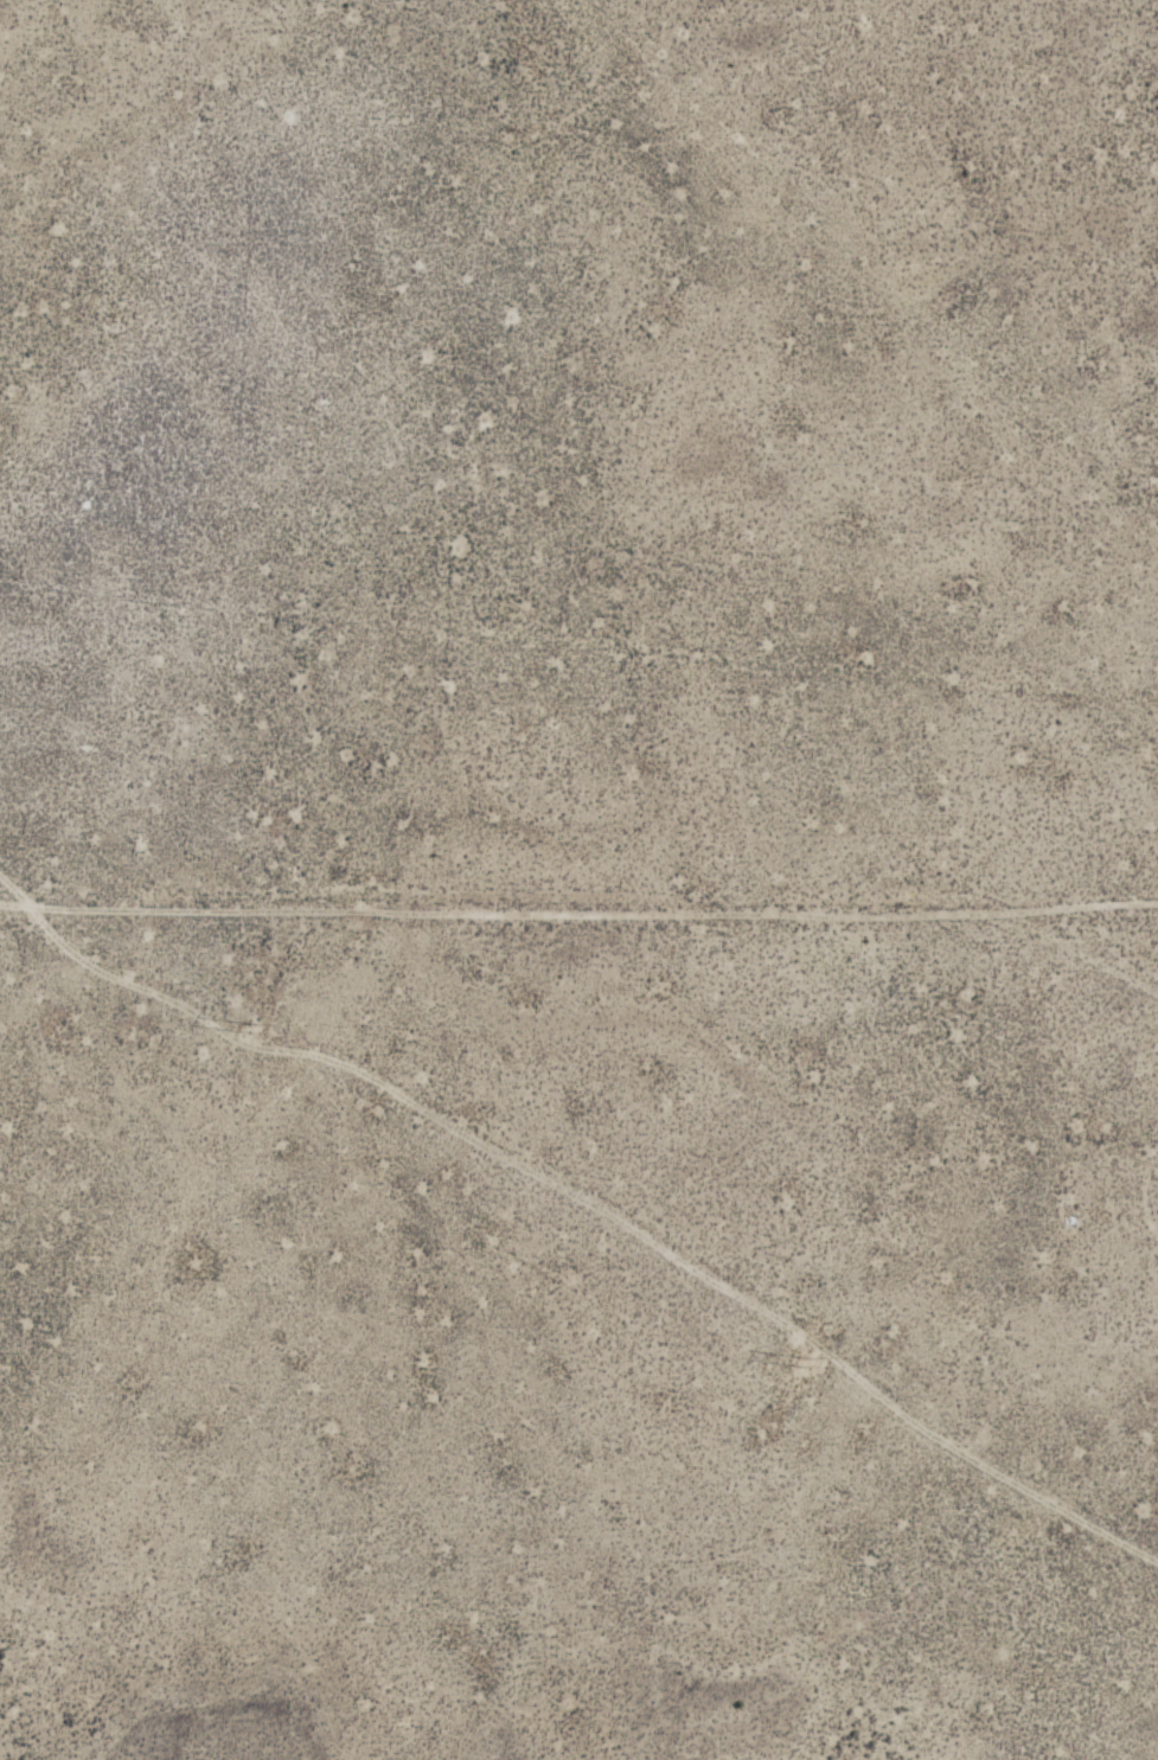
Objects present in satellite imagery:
road: (578, 910)
power tower: (251, 1026)
power tower: (807, 1362)

